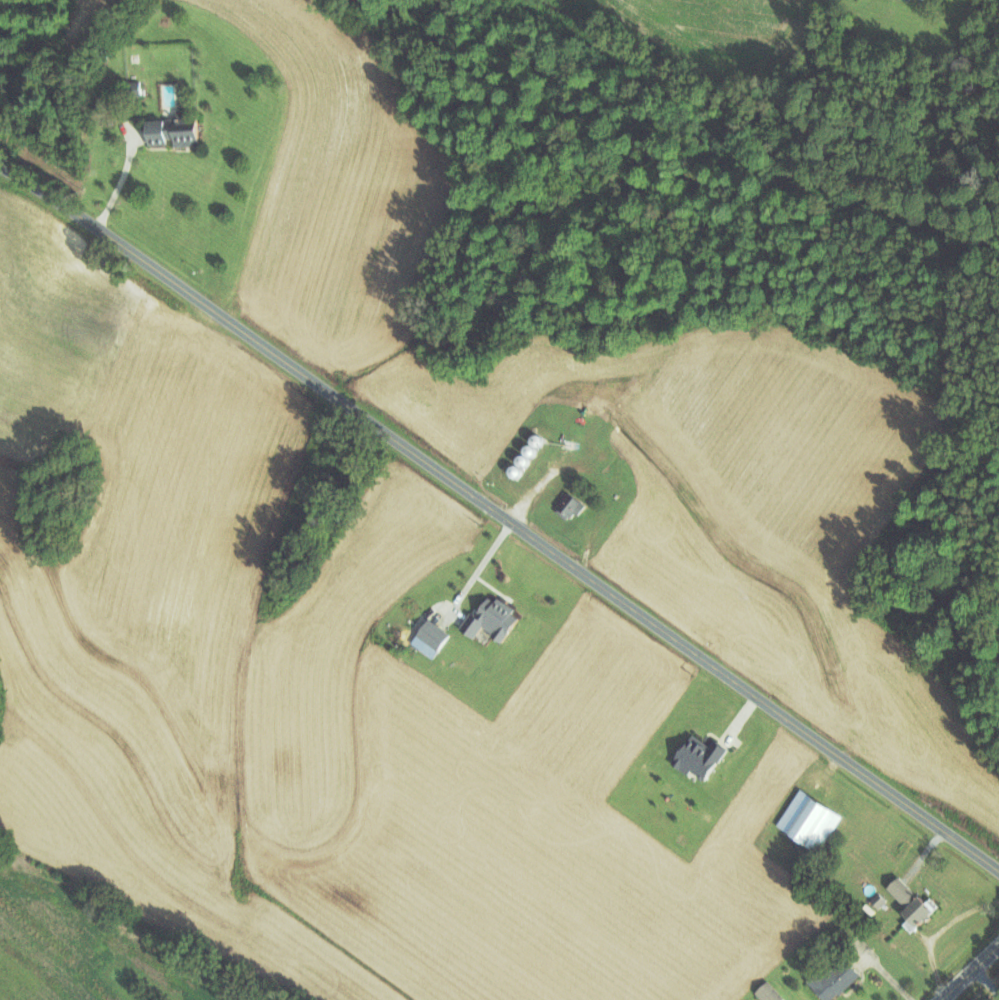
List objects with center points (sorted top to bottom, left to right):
building: (135, 87)
building: (174, 129)
road: (119, 178)
building: (570, 504)
road: (499, 514)
building: (492, 618)
building: (434, 633)
building: (700, 756)
building: (810, 819)
building: (880, 899)
building: (913, 903)
road: (969, 972)
building: (834, 980)
building: (770, 992)

